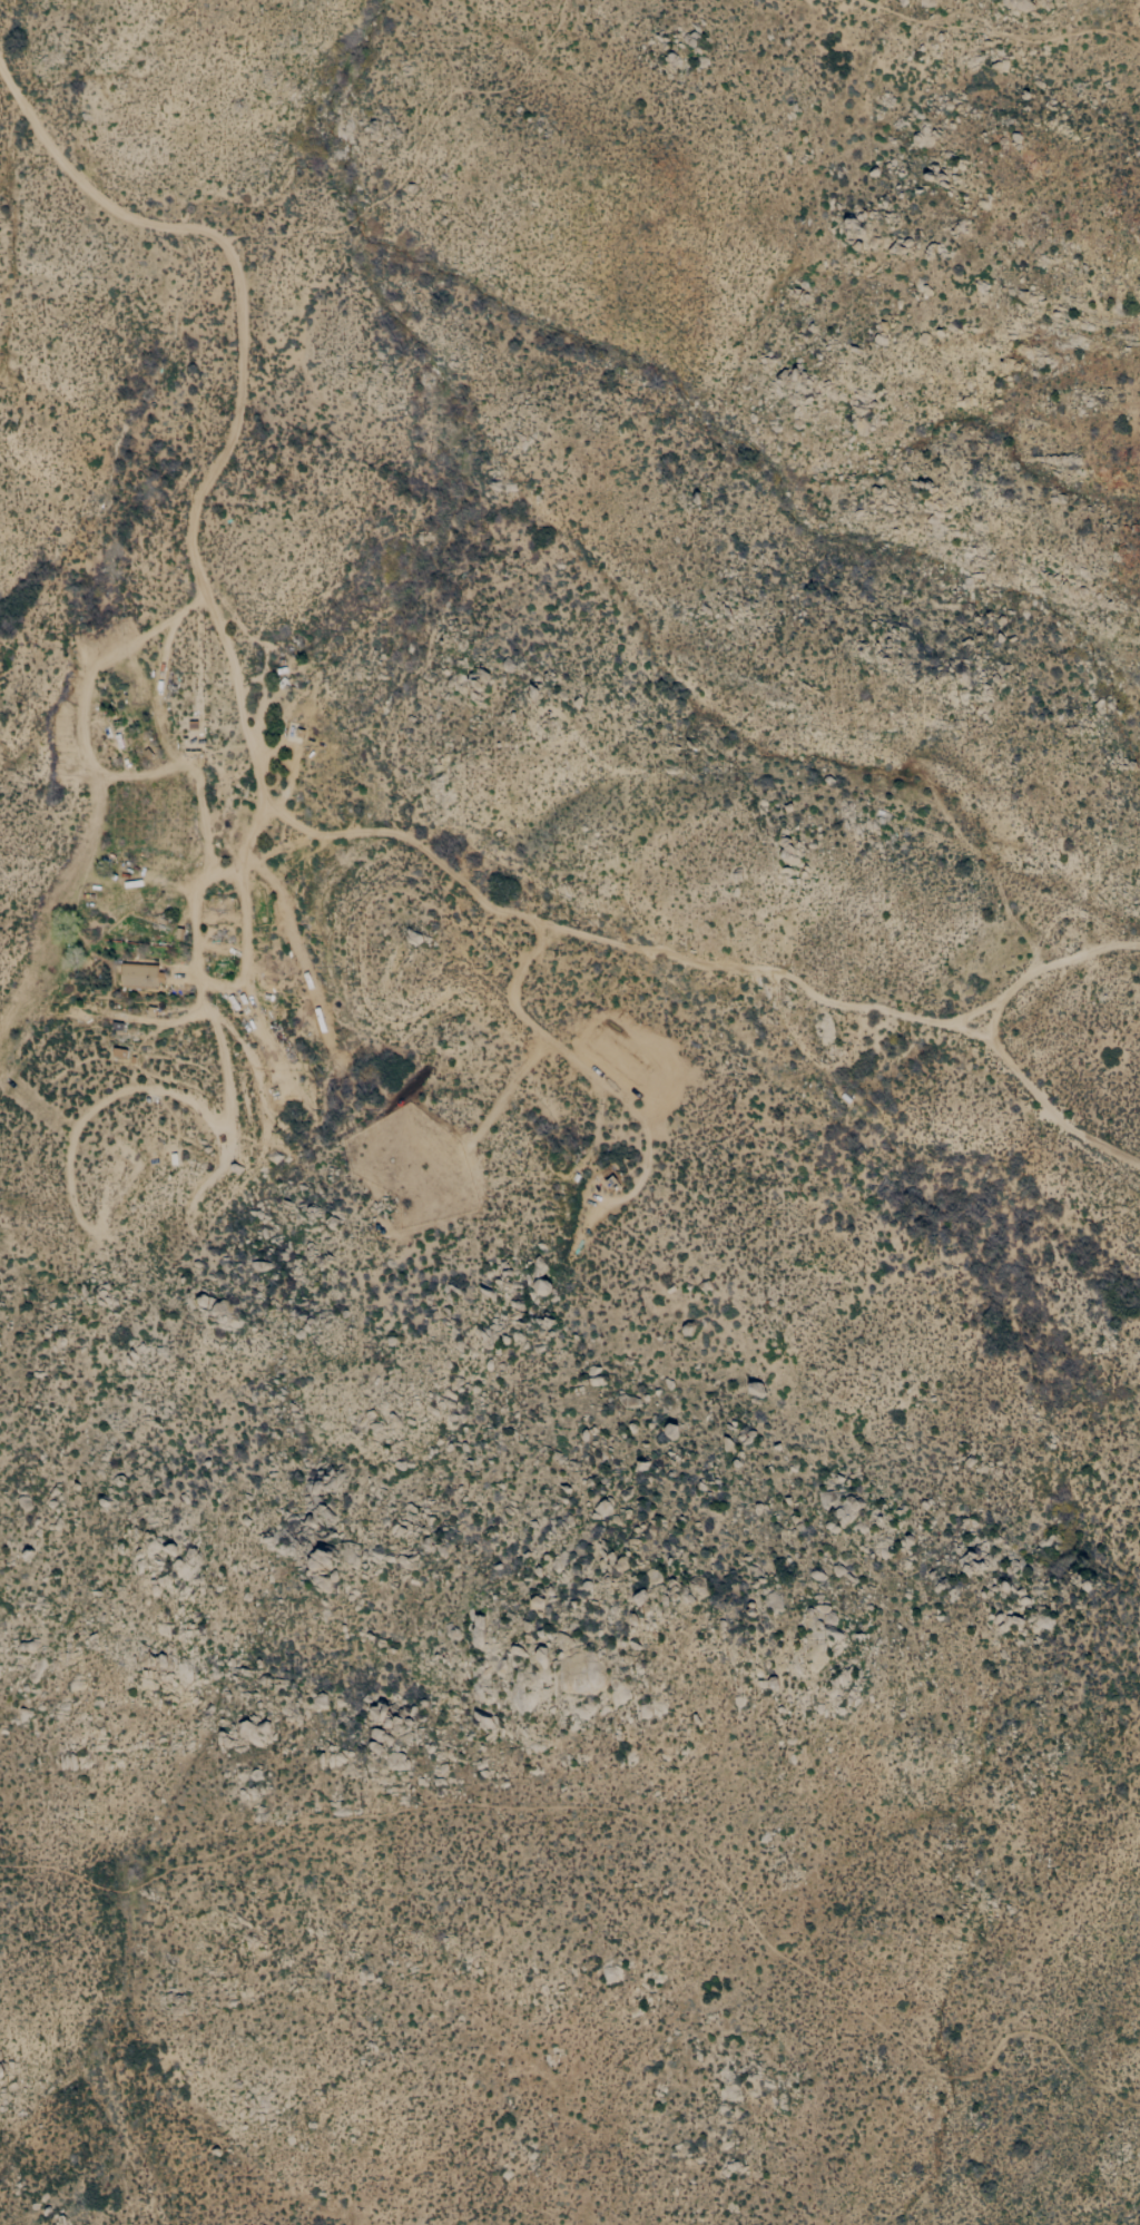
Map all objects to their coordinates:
road: (168, 634)
road: (262, 716)
road: (297, 752)
road: (89, 758)
road: (272, 796)
building: (141, 974)
road: (226, 984)

